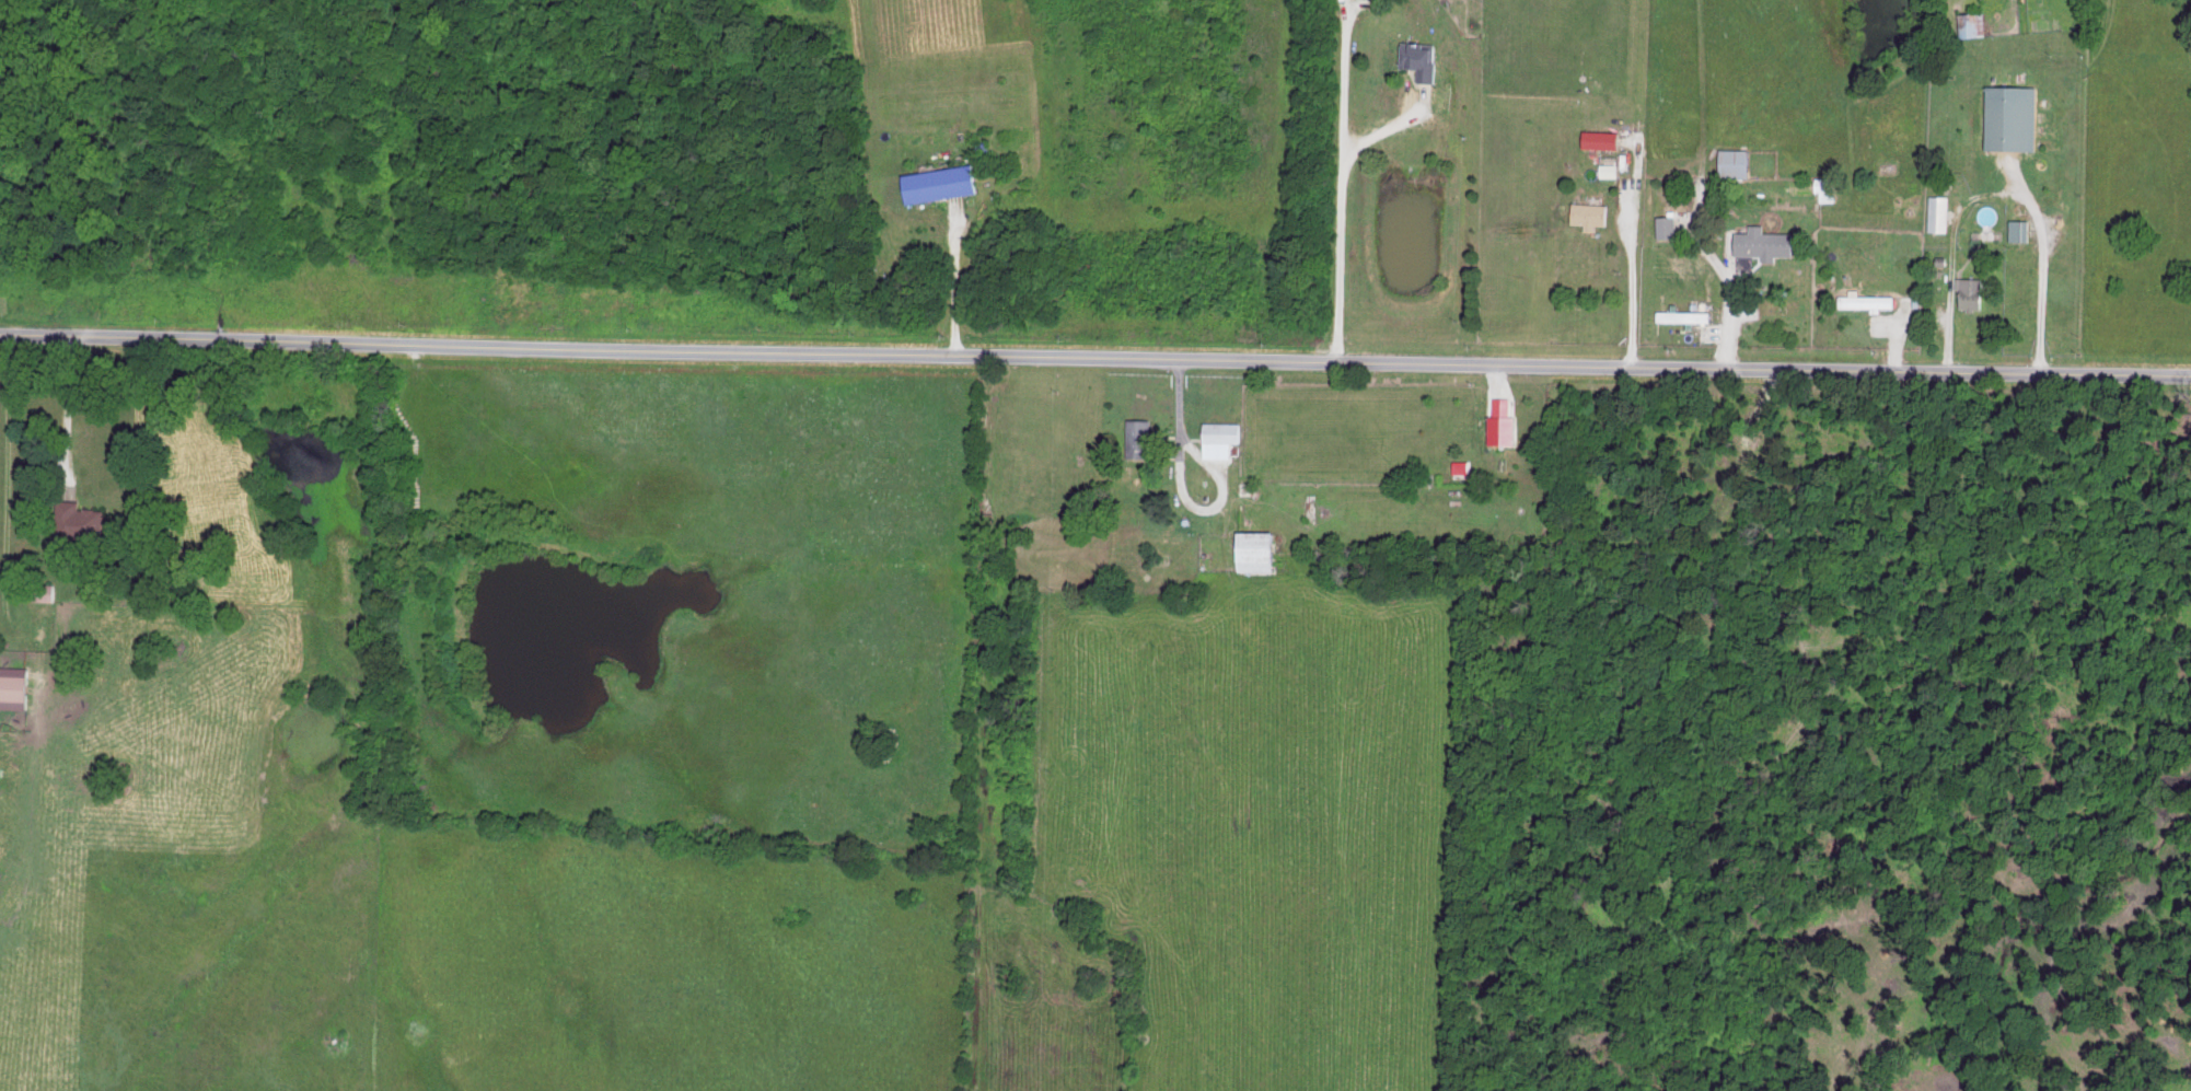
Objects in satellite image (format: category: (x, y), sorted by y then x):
building: (1424, 59)
building: (2014, 117)
building: (1604, 139)
building: (1737, 162)
building: (1609, 169)
building: (944, 182)
road: (1340, 187)
building: (1828, 188)
building: (1940, 212)
building: (1593, 213)
building: (1668, 225)
building: (2021, 229)
building: (1767, 243)
road: (1948, 256)
road: (2034, 266)
road: (1628, 283)
road: (955, 290)
building: (1972, 291)
building: (1867, 300)
road: (1725, 302)
building: (1685, 314)
road: (1094, 358)
building: (1504, 421)
building: (1143, 437)
building: (1222, 437)
building: (1460, 466)
road: (1179, 492)
building: (81, 521)
building: (1260, 549)
building: (18, 686)

